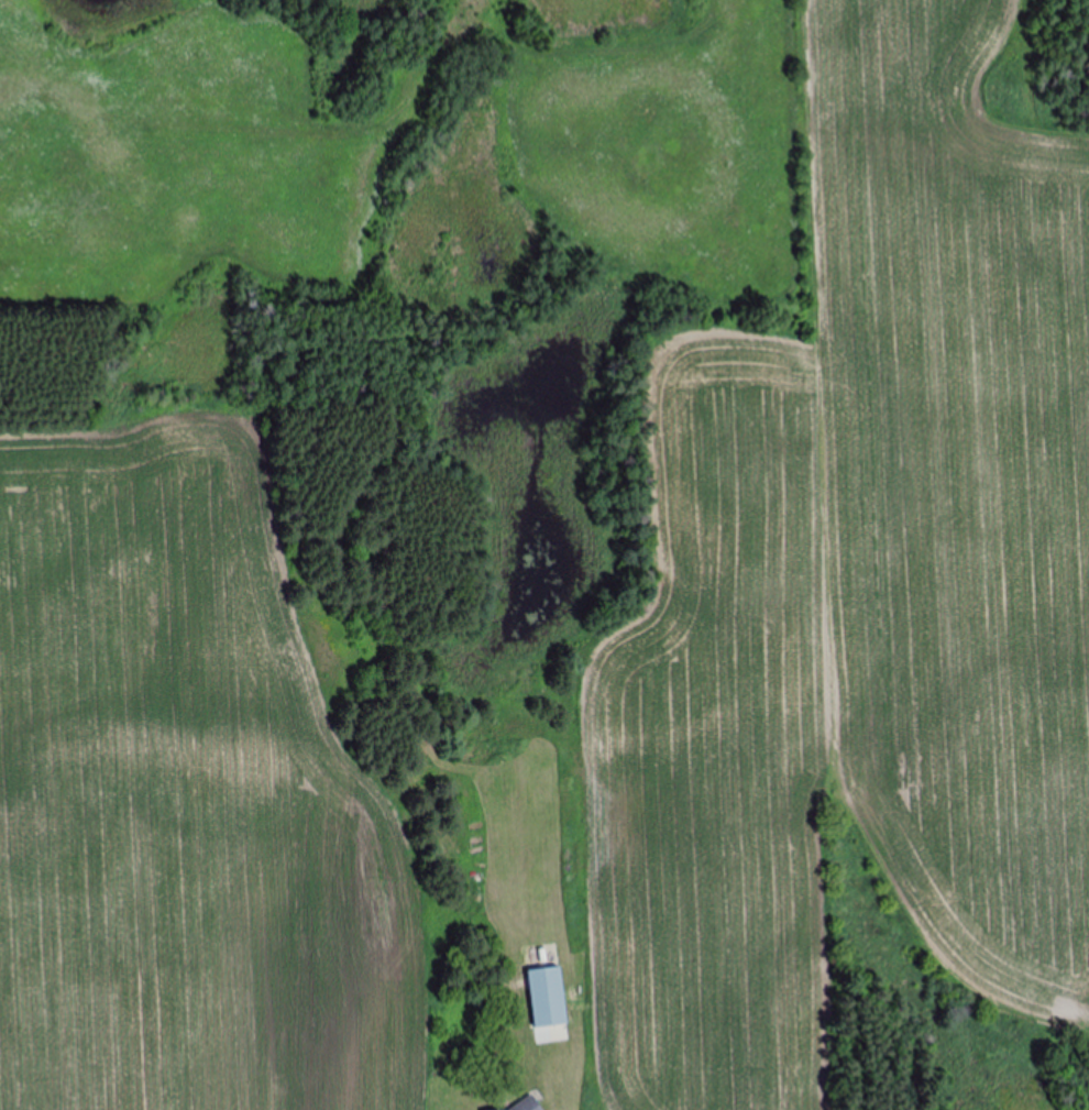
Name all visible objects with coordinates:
building: (515, 1108)

